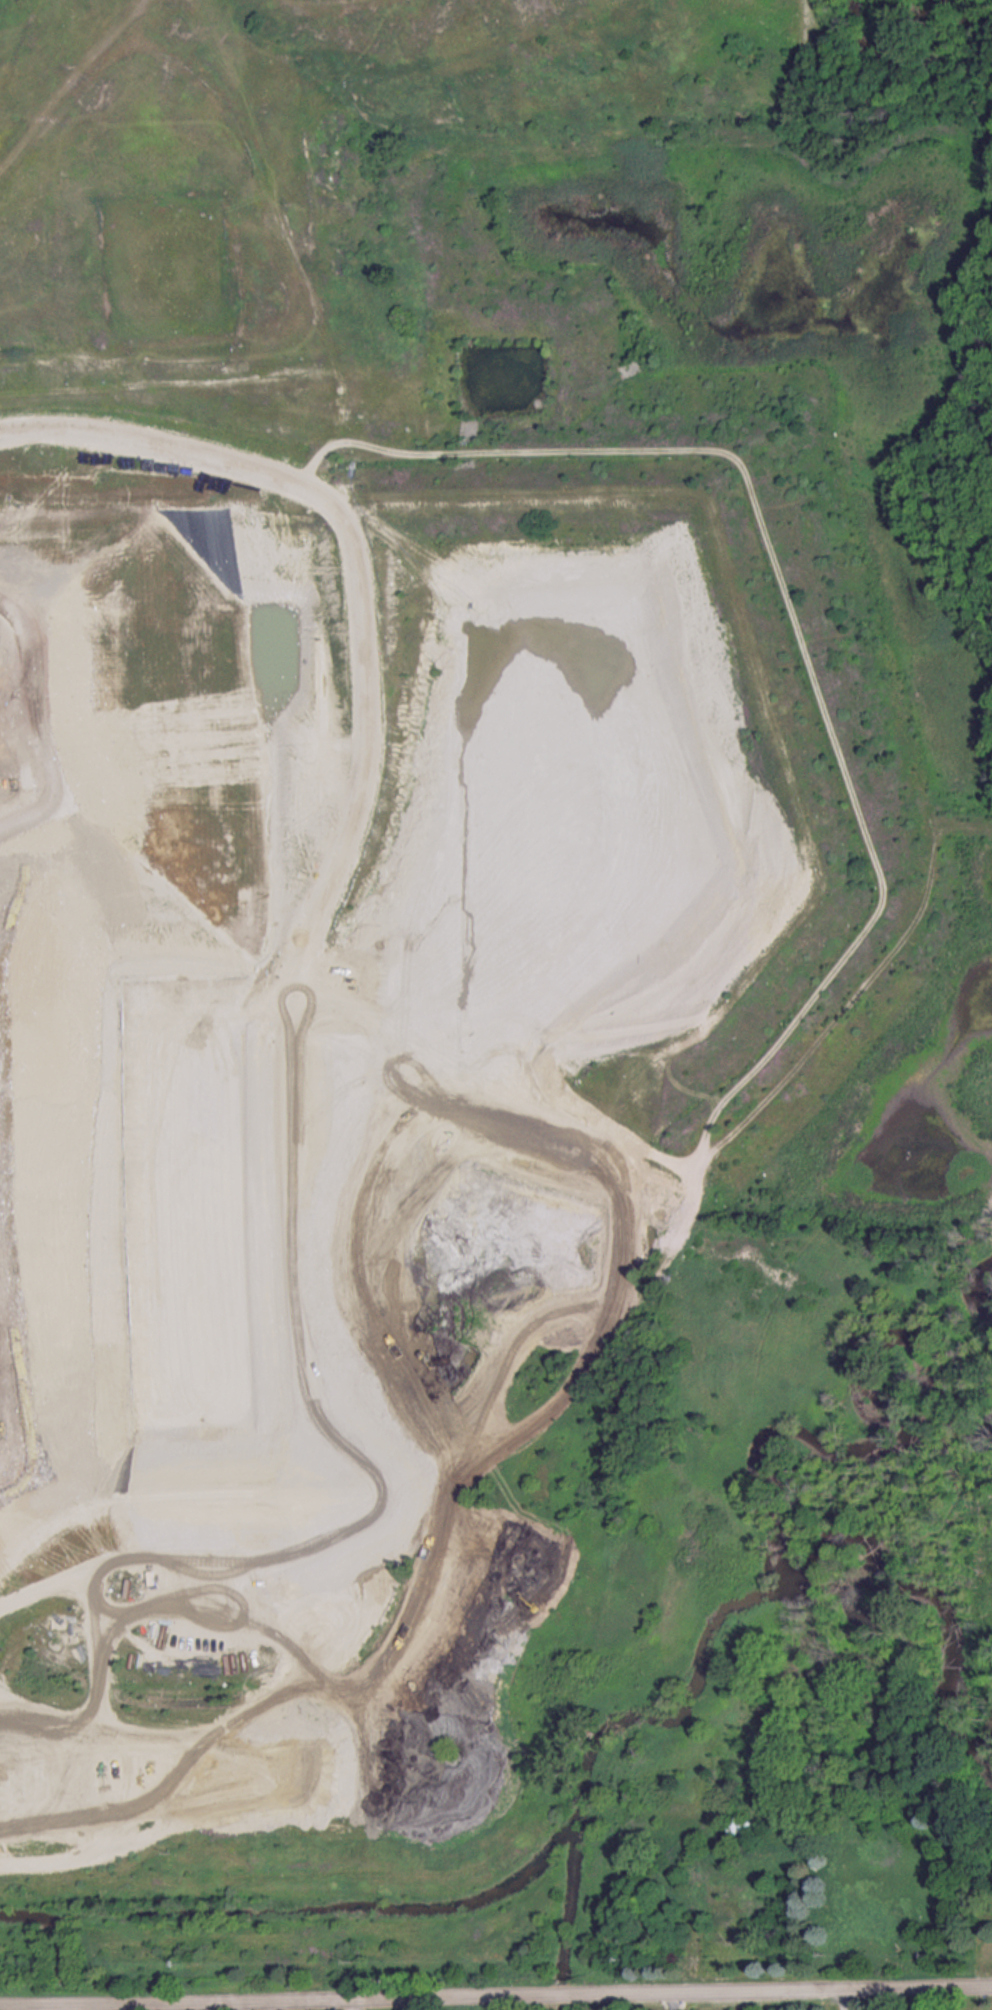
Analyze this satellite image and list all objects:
road: (86, 93)
landfill: (473, 925)
building: (738, 1825)
road: (496, 1996)
road: (927, 1998)
road: (844, 1999)
road: (671, 2001)
road: (357, 2005)

